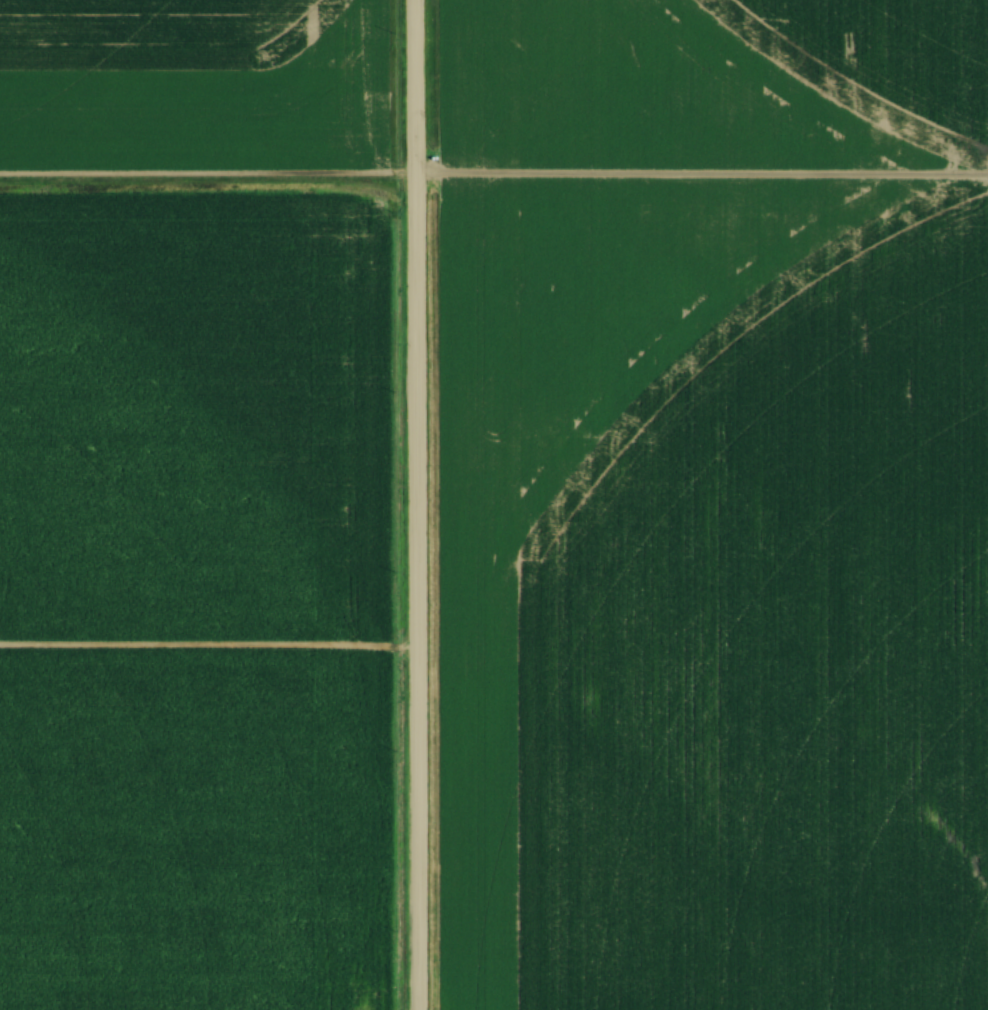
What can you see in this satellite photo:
road: (413, 505)

